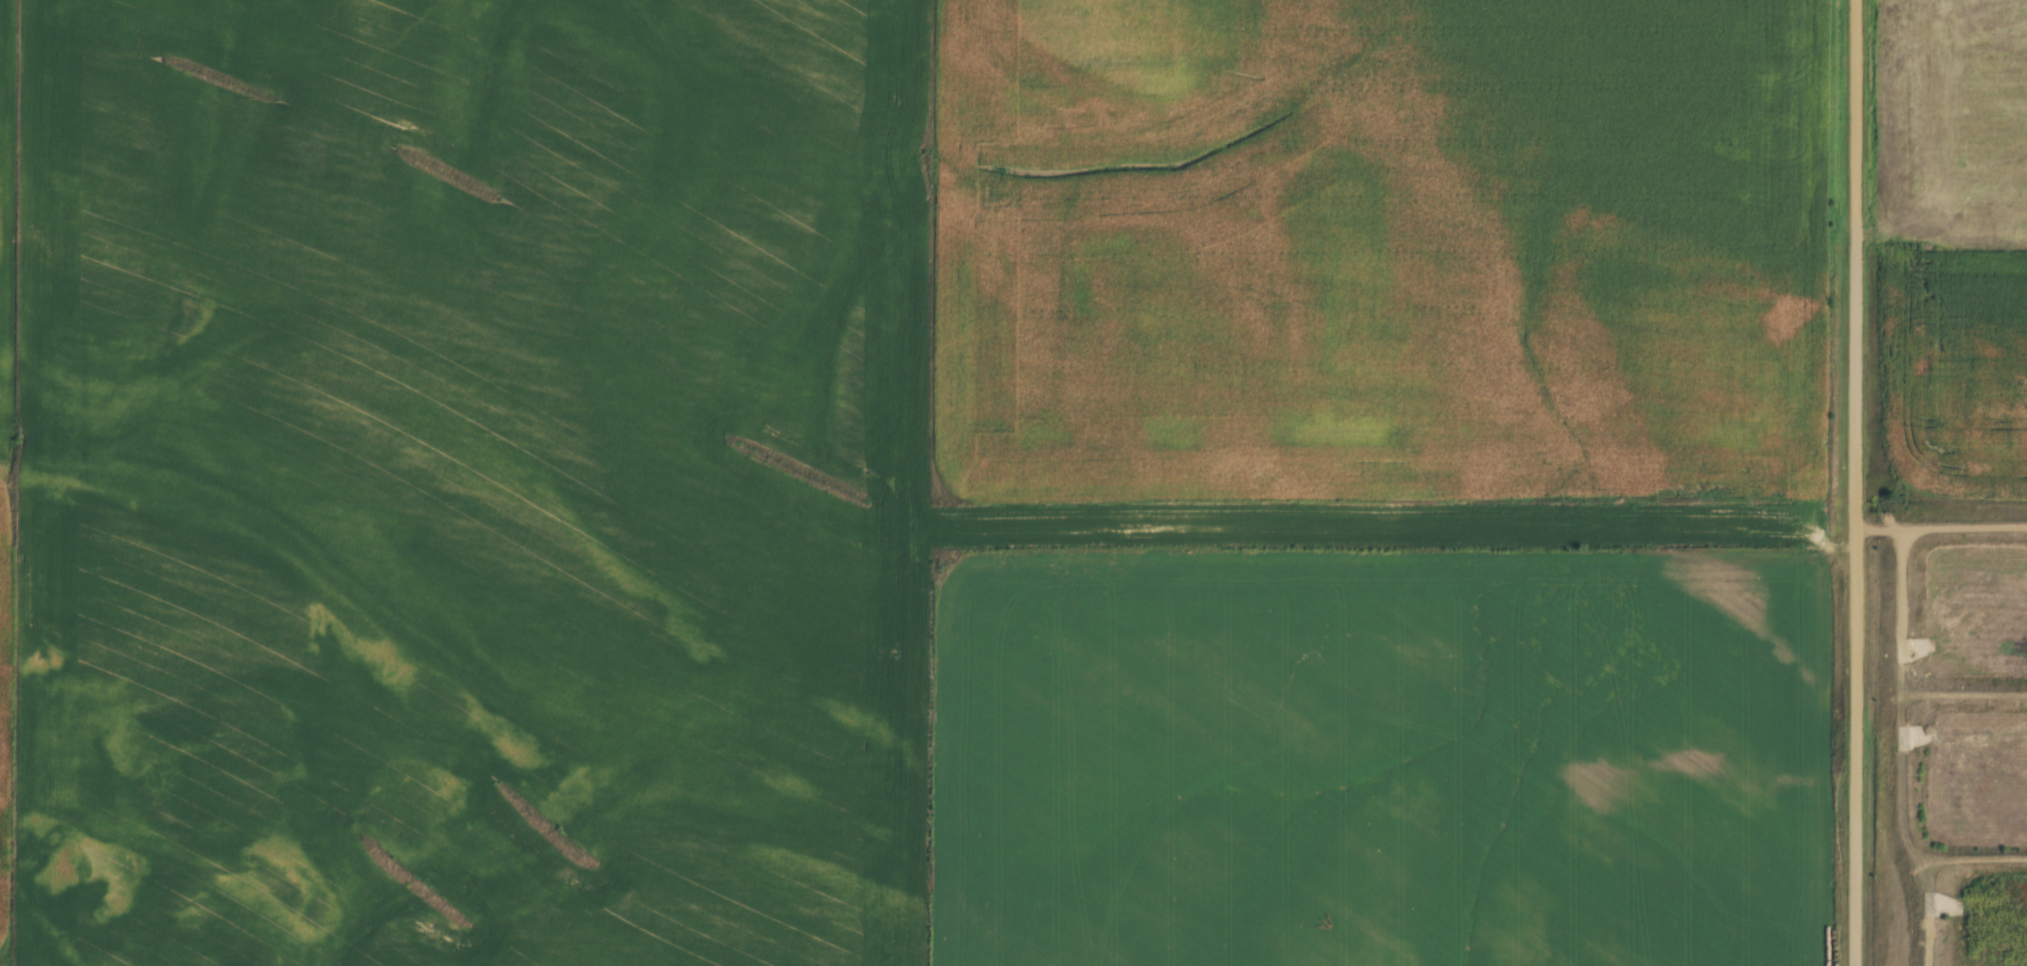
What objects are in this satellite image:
crop: (1951, 254)
road: (1852, 483)

